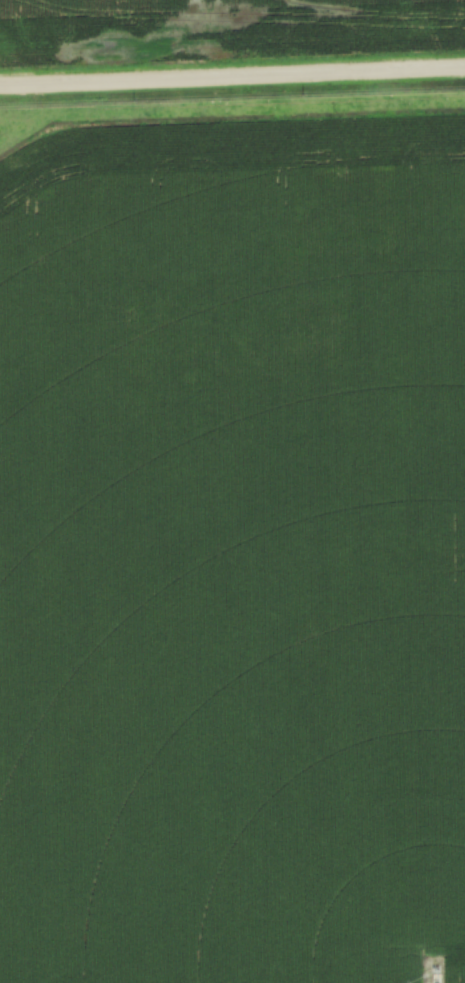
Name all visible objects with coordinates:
crop: (221, 26)
road: (232, 77)
crop: (233, 540)

